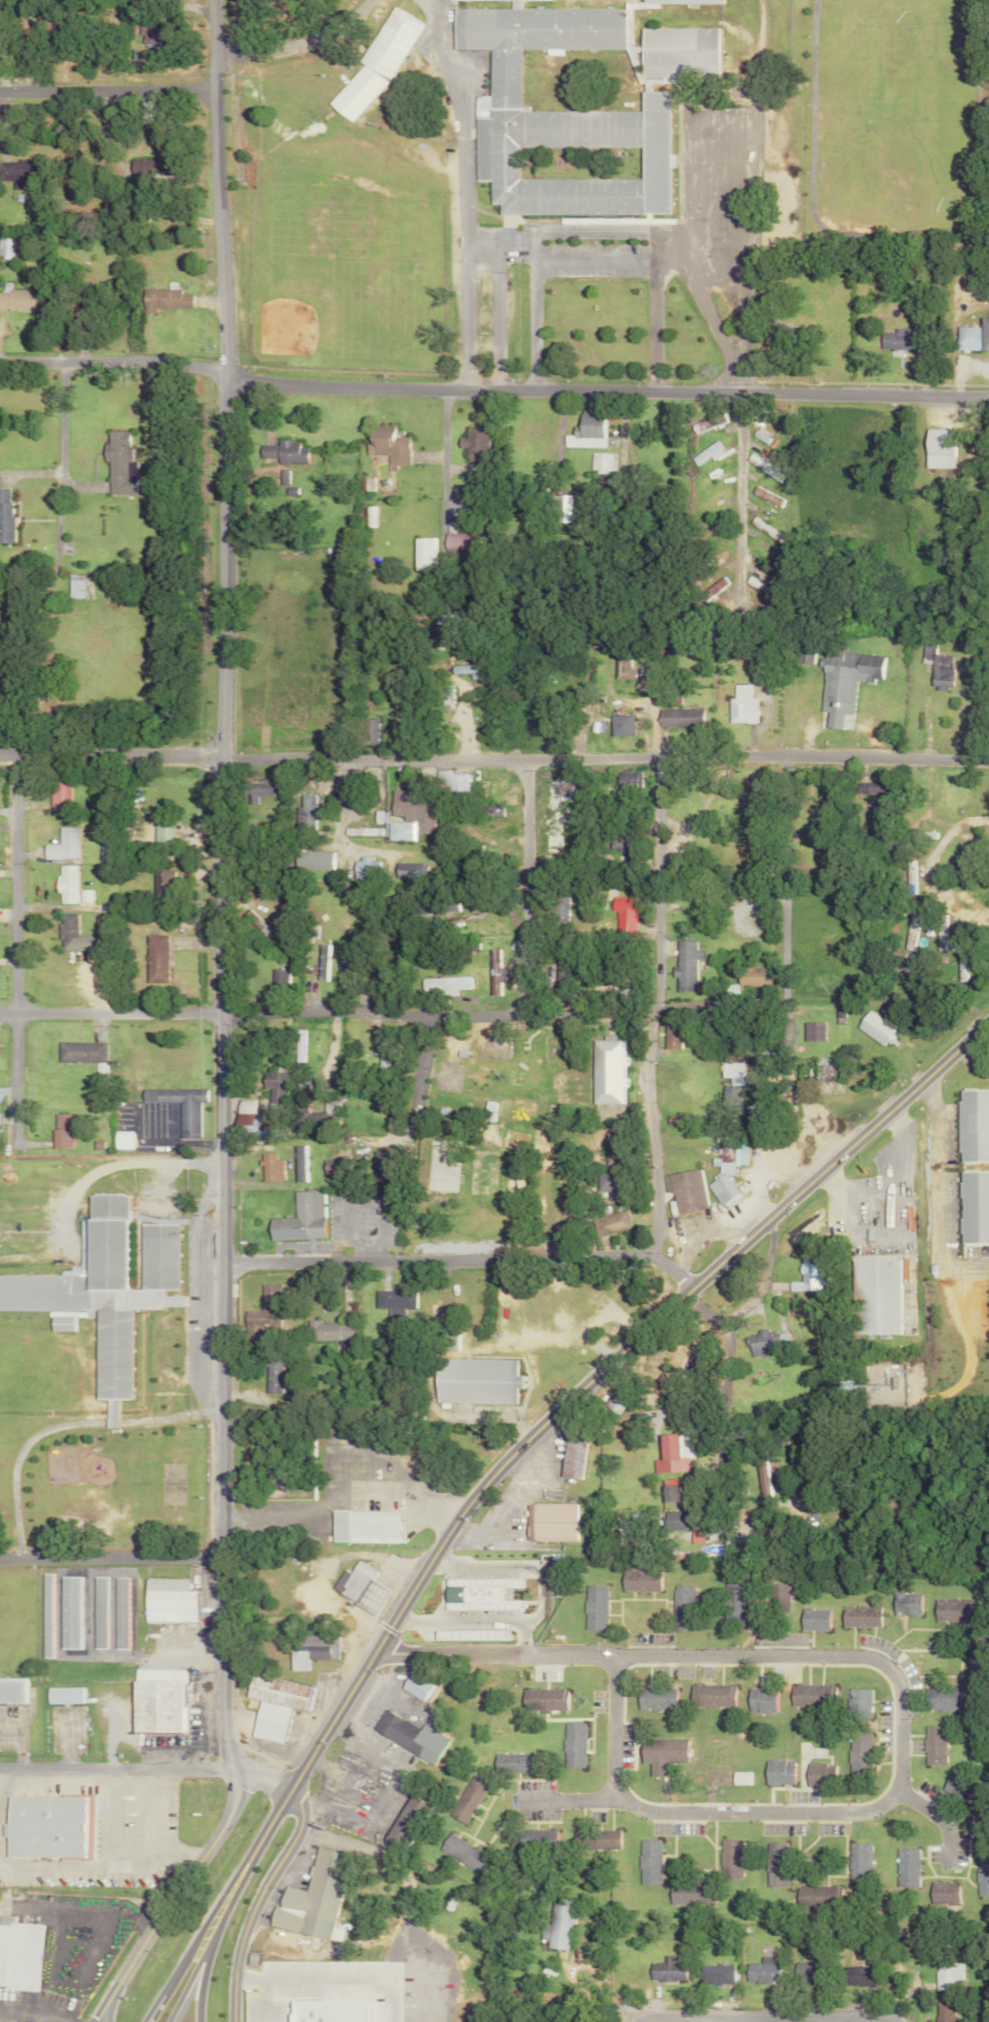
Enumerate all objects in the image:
road: (295, 39)
building: (372, 66)
road: (109, 92)
building: (560, 120)
building: (15, 173)
road: (456, 191)
road: (599, 230)
building: (4, 247)
road: (737, 256)
road: (667, 259)
road: (590, 261)
building: (16, 299)
building: (162, 300)
road: (491, 304)
road: (650, 325)
building: (972, 337)
building: (893, 340)
road: (493, 391)
building: (705, 423)
building: (583, 432)
building: (471, 443)
building: (383, 445)
road: (60, 449)
building: (935, 449)
building: (281, 452)
building: (703, 454)
building: (599, 462)
building: (115, 464)
building: (280, 476)
building: (364, 484)
building: (763, 497)
road: (445, 501)
road: (736, 503)
building: (557, 509)
building: (4, 515)
building: (459, 543)
building: (421, 555)
building: (712, 559)
building: (73, 585)
building: (708, 588)
building: (450, 621)
building: (805, 654)
building: (936, 666)
building: (467, 669)
building: (622, 669)
building: (842, 681)
building: (443, 694)
building: (739, 705)
building: (678, 717)
building: (618, 725)
building: (368, 731)
road: (110, 755)
road: (605, 757)
building: (627, 779)
building: (451, 782)
building: (867, 789)
building: (254, 790)
building: (555, 791)
building: (57, 793)
building: (492, 809)
building: (412, 810)
building: (305, 811)
building: (360, 831)
building: (398, 831)
building: (164, 832)
road: (338, 834)
building: (616, 840)
building: (62, 845)
building: (312, 860)
building: (364, 868)
building: (408, 870)
building: (65, 883)
building: (164, 883)
road: (220, 885)
road: (524, 887)
building: (83, 895)
building: (432, 908)
building: (559, 908)
building: (623, 917)
building: (940, 922)
building: (252, 923)
road: (780, 926)
building: (908, 929)
building: (72, 934)
road: (15, 955)
building: (154, 958)
building: (321, 961)
building: (683, 964)
building: (492, 971)
building: (557, 973)
building: (277, 977)
building: (441, 985)
building: (620, 986)
road: (109, 1013)
road: (500, 1014)
building: (873, 1029)
building: (811, 1031)
road: (651, 1037)
building: (669, 1037)
building: (295, 1045)
building: (78, 1052)
road: (399, 1058)
building: (604, 1071)
building: (729, 1072)
building: (270, 1086)
building: (724, 1099)
road: (351, 1104)
building: (177, 1107)
building: (306, 1117)
road: (400, 1117)
building: (241, 1118)
building: (973, 1125)
building: (59, 1130)
building: (118, 1139)
building: (730, 1153)
road: (114, 1162)
building: (297, 1163)
building: (325, 1166)
building: (266, 1167)
building: (605, 1185)
road: (891, 1187)
building: (720, 1189)
building: (684, 1190)
road: (940, 1194)
building: (974, 1206)
building: (297, 1219)
building: (608, 1223)
road: (430, 1259)
building: (805, 1276)
building: (101, 1289)
road: (188, 1293)
building: (874, 1294)
building: (392, 1300)
road: (708, 1304)
building: (262, 1310)
building: (326, 1330)
building: (762, 1342)
road: (723, 1365)
building: (269, 1375)
building: (471, 1381)
road: (543, 1416)
road: (59, 1422)
building: (262, 1448)
building: (665, 1456)
building: (568, 1459)
building: (757, 1476)
road: (337, 1493)
building: (663, 1494)
road: (498, 1507)
building: (671, 1519)
building: (545, 1522)
building: (360, 1527)
building: (692, 1537)
road: (109, 1558)
building: (636, 1580)
building: (356, 1587)
building: (473, 1594)
building: (775, 1598)
building: (164, 1601)
building: (729, 1603)
building: (906, 1604)
building: (953, 1605)
building: (591, 1607)
building: (678, 1608)
building: (96, 1612)
road: (535, 1612)
building: (117, 1613)
building: (857, 1616)
building: (811, 1619)
road: (519, 1640)
building: (308, 1650)
road: (895, 1683)
building: (411, 1687)
building: (10, 1690)
building: (59, 1695)
building: (810, 1695)
building: (709, 1696)
building: (944, 1698)
building: (540, 1699)
building: (652, 1699)
building: (759, 1700)
building: (153, 1701)
building: (857, 1703)
building: (272, 1704)
building: (406, 1736)
building: (570, 1745)
building: (934, 1745)
building: (659, 1755)
building: (859, 1756)
building: (514, 1763)
road: (145, 1768)
building: (778, 1772)
building: (820, 1775)
building: (739, 1778)
building: (957, 1786)
road: (565, 1797)
building: (465, 1799)
road: (936, 1814)
building: (44, 1826)
road: (152, 1830)
building: (534, 1837)
building: (594, 1840)
road: (108, 1846)
building: (460, 1852)
building: (730, 1859)
building: (648, 1862)
building: (858, 1862)
building: (775, 1864)
road: (54, 1866)
building: (906, 1868)
building: (982, 1877)
building: (828, 1892)
building: (689, 1893)
building: (943, 1894)
road: (175, 1897)
road: (255, 1900)
building: (307, 1902)
building: (557, 1923)
building: (17, 1953)
building: (392, 1958)
road: (203, 1965)
road: (184, 1966)
building: (665, 1970)
building: (761, 1971)
building: (715, 1974)
building: (856, 1974)
building: (948, 1974)
road: (278, 1977)
building: (943, 2011)
road: (764, 2016)
road: (631, 2019)
building: (544, 2021)
road: (895, 2021)

